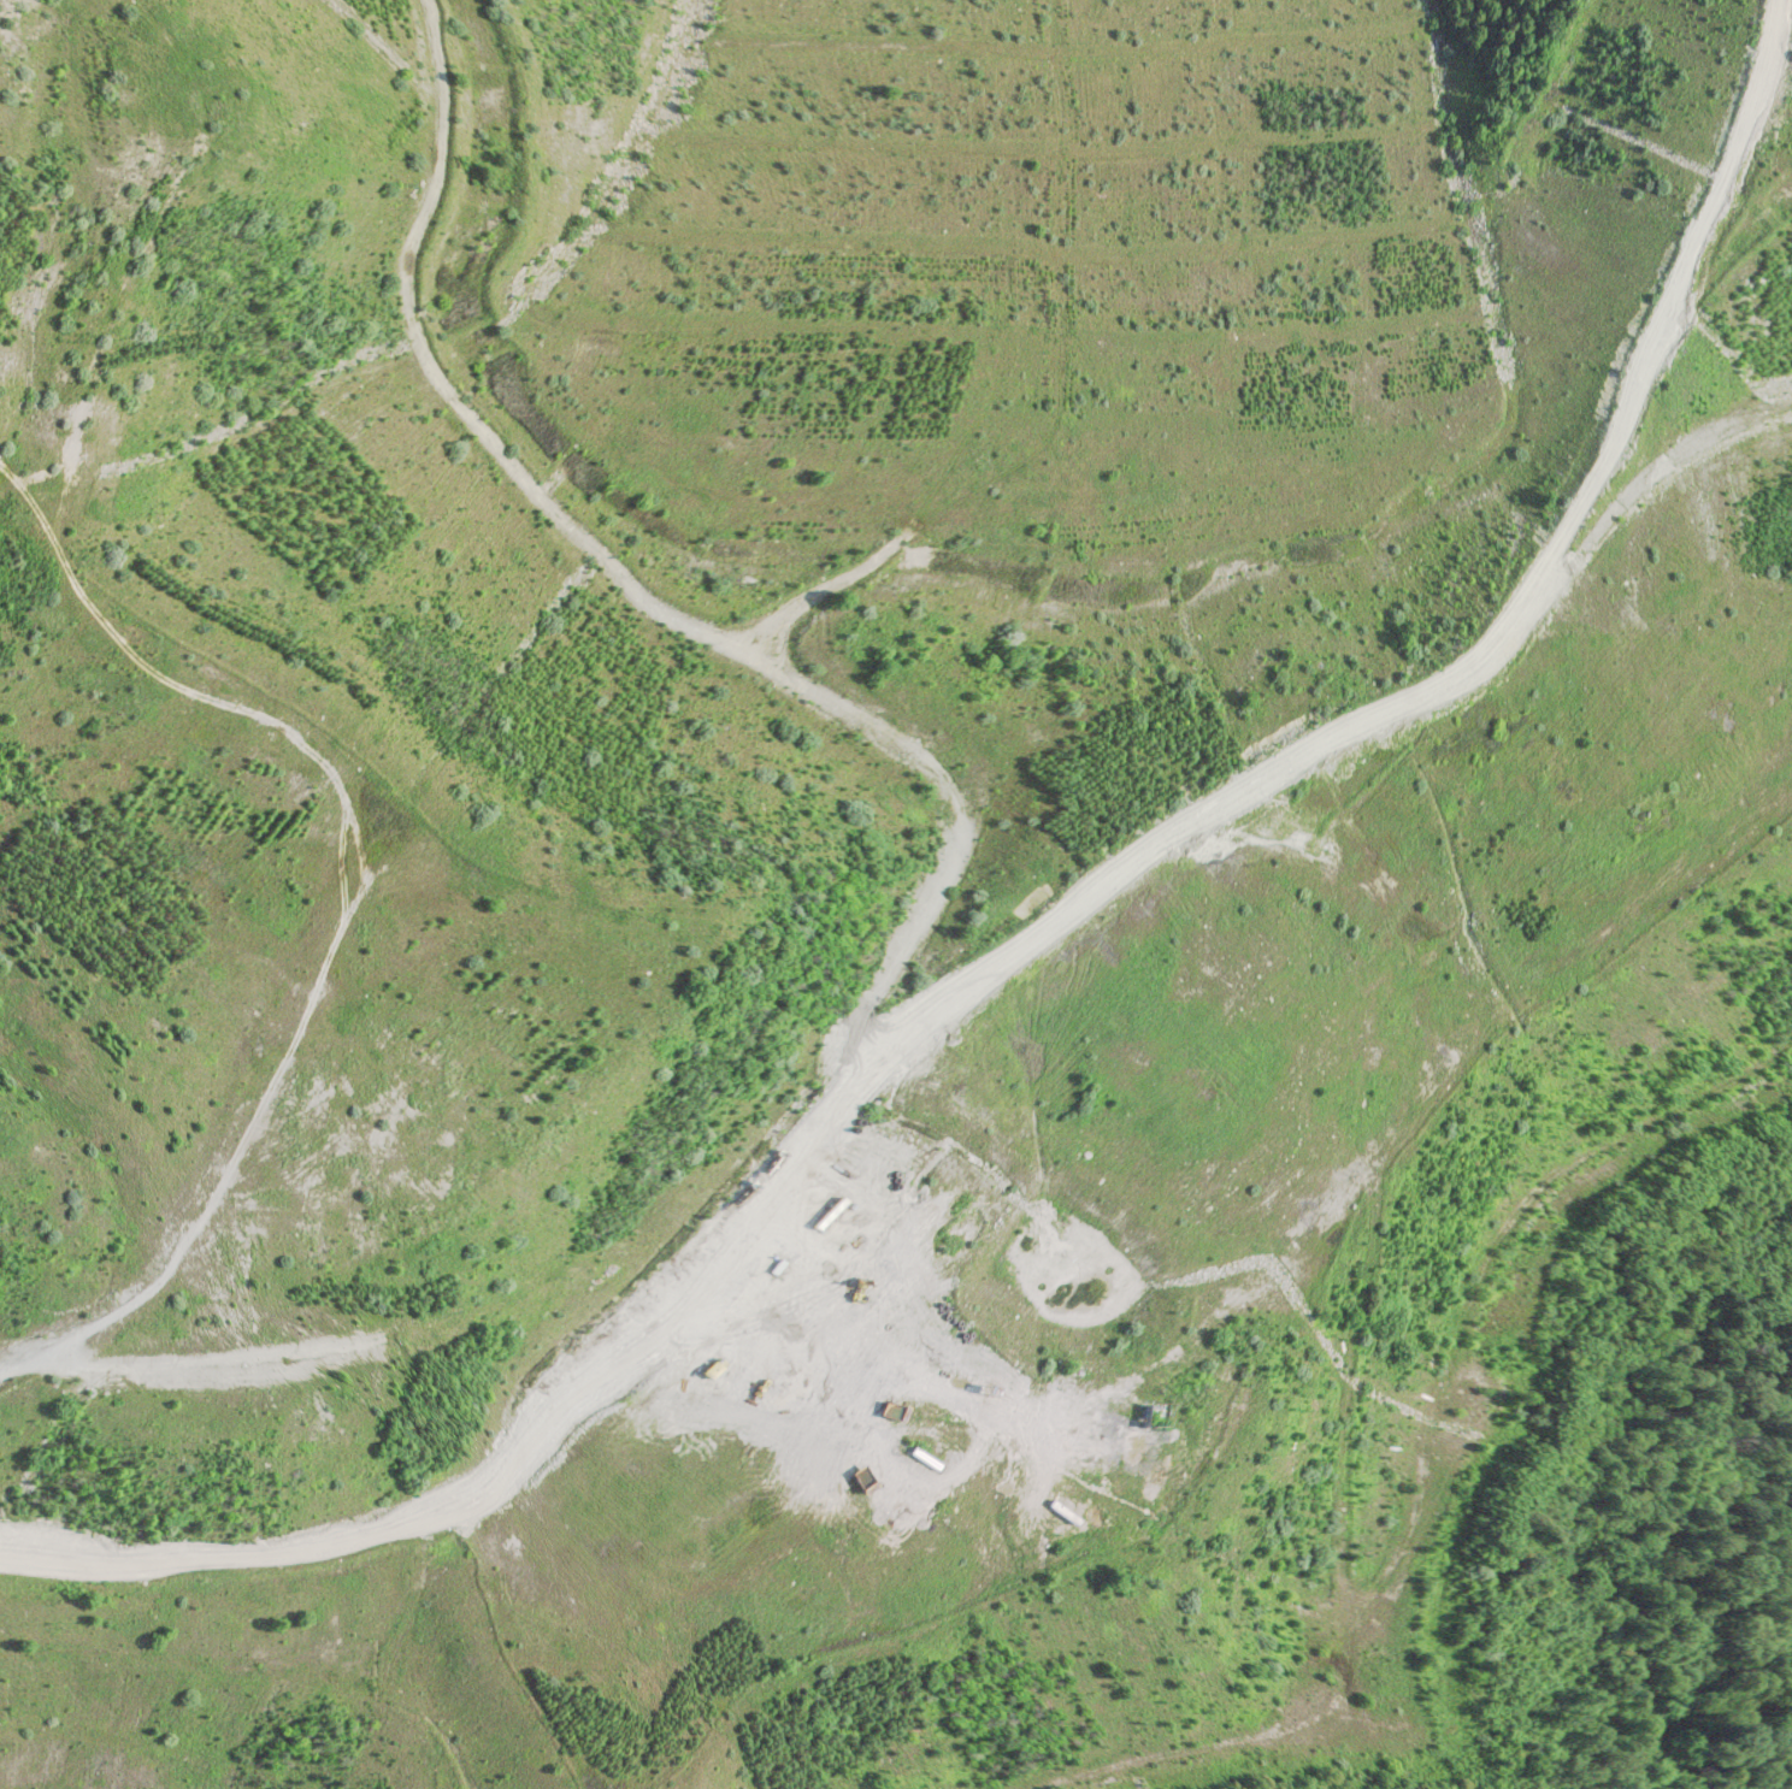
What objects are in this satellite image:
building: (1154, 1424)

